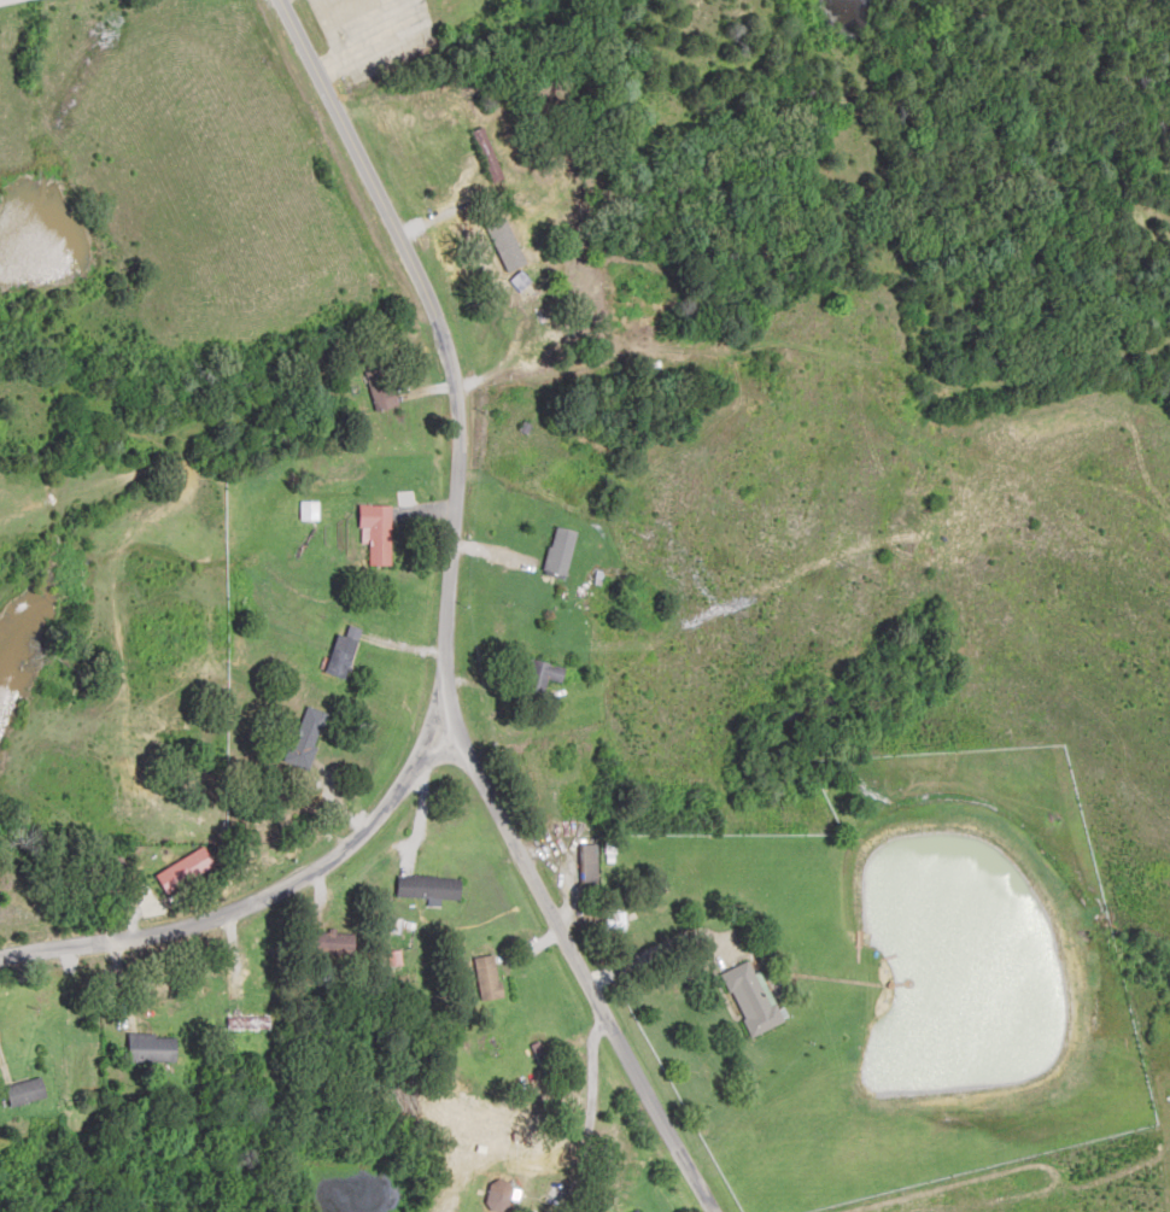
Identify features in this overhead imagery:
road: (12, 2)
building: (486, 154)
building: (509, 268)
building: (382, 390)
building: (379, 533)
building: (561, 551)
road: (449, 608)
building: (549, 669)
building: (310, 734)
building: (591, 862)
building: (187, 868)
building: (431, 885)
building: (490, 976)
road: (591, 978)
building: (755, 997)
building: (250, 1020)
building: (154, 1047)
building: (29, 1090)
building: (499, 1195)
building: (639, 1211)

